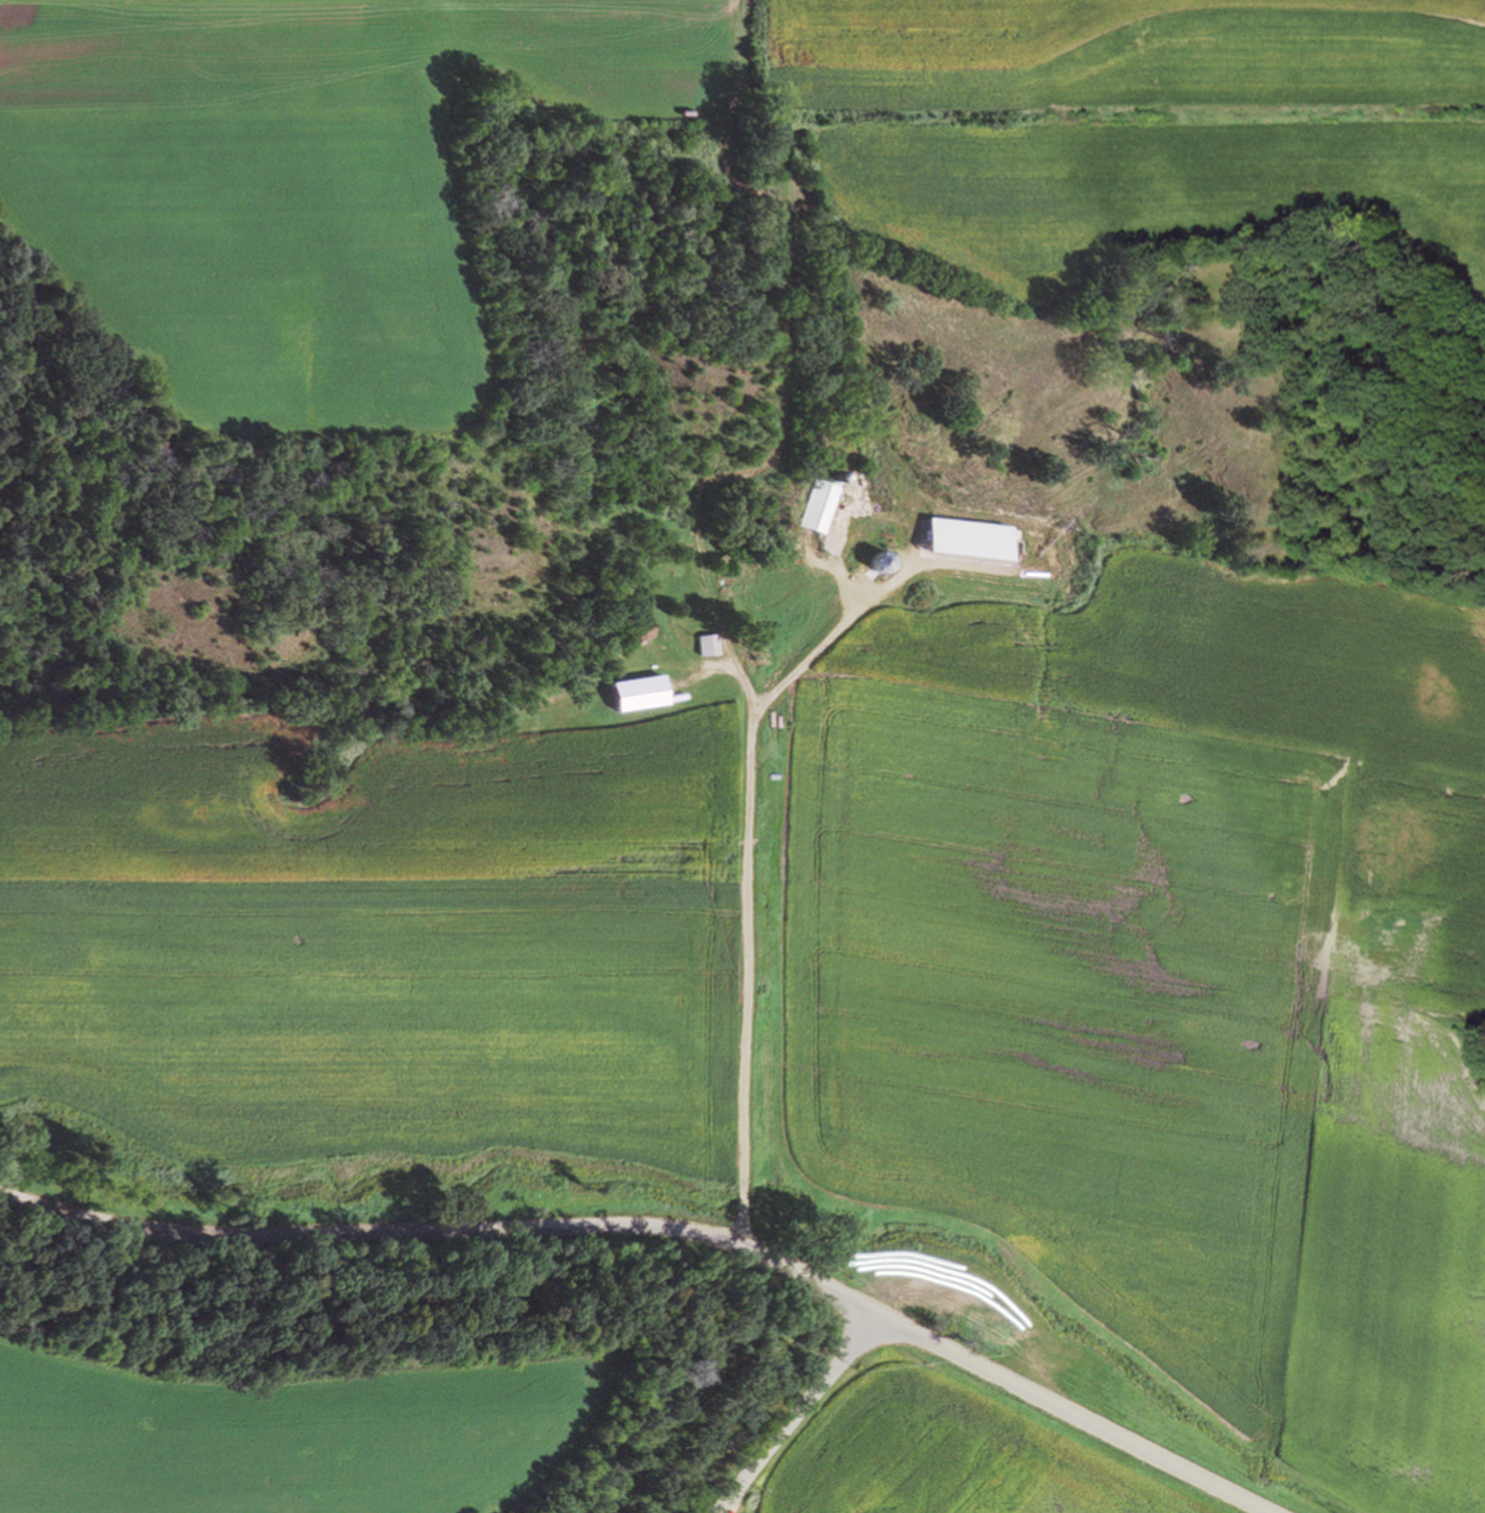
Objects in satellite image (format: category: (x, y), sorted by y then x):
building: (817, 507)
building: (886, 562)
building: (637, 627)
building: (708, 645)
building: (643, 693)
building: (607, 704)
road: (743, 955)
road: (665, 1230)
road: (800, 1416)

